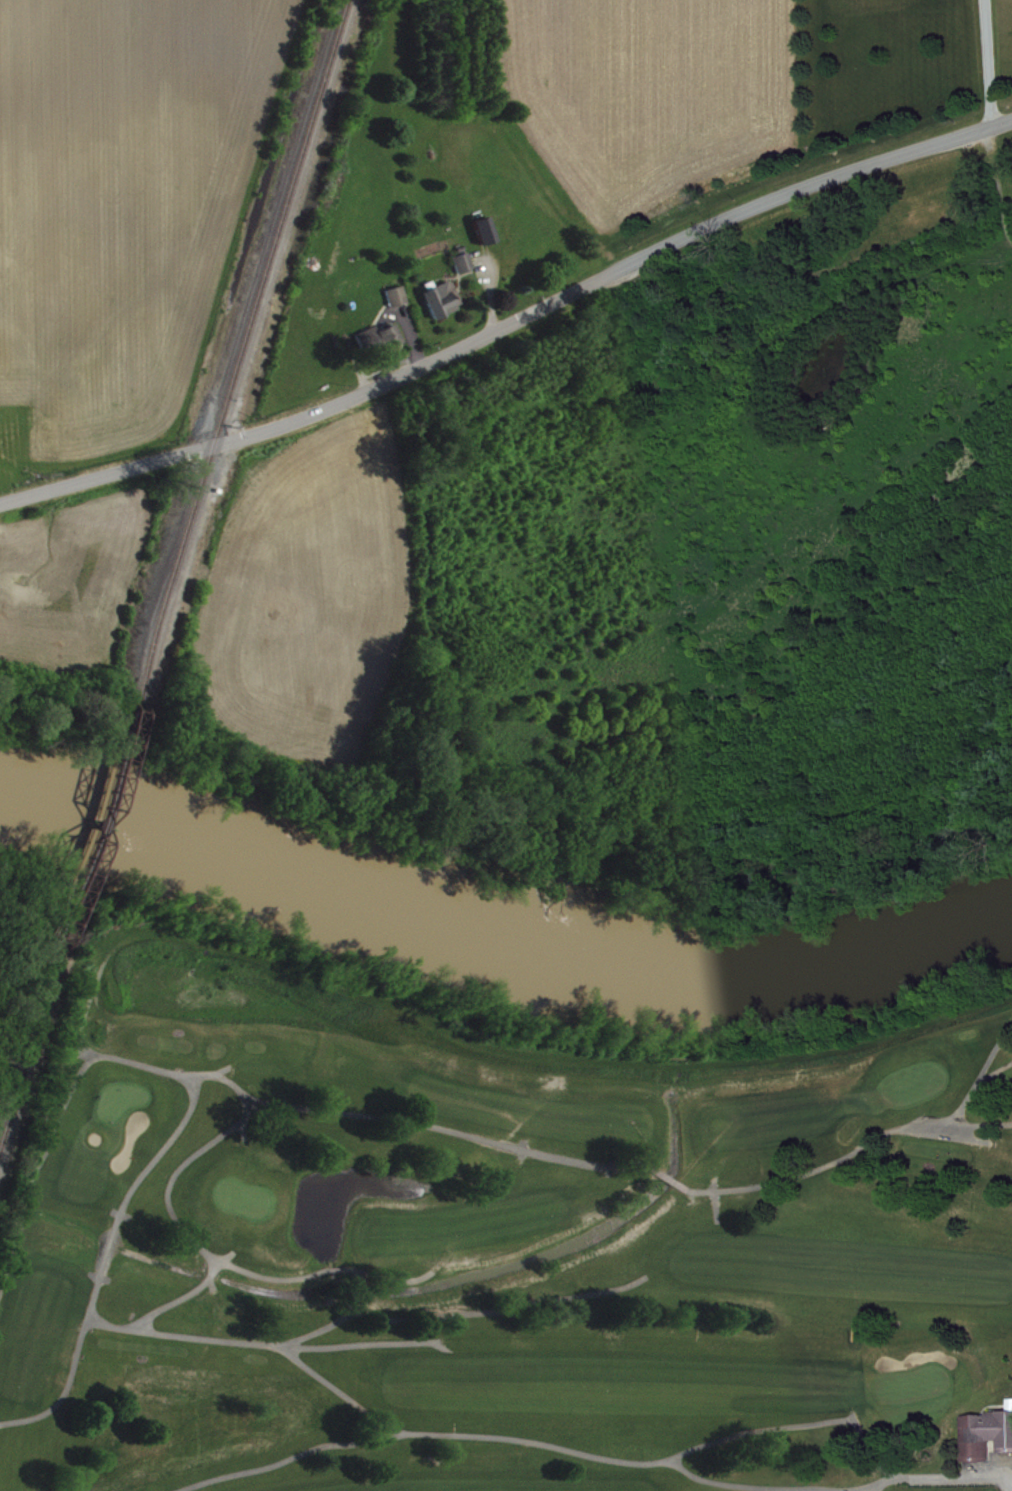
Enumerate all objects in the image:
road: (988, 63)
crop: (129, 202)
building: (486, 238)
building: (464, 270)
building: (398, 303)
building: (443, 307)
road: (511, 327)
building: (381, 345)
railway: (241, 346)
railway: (97, 824)
river: (501, 936)
railway: (28, 1050)
park: (919, 1092)
park: (124, 1109)
park: (247, 1207)
park: (513, 1271)
park: (915, 1393)
building: (985, 1432)

